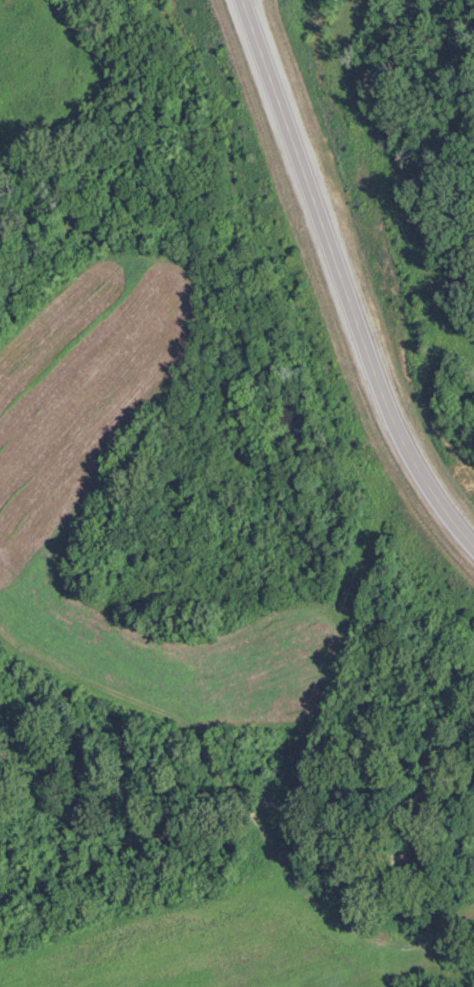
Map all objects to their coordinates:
road: (341, 283)

